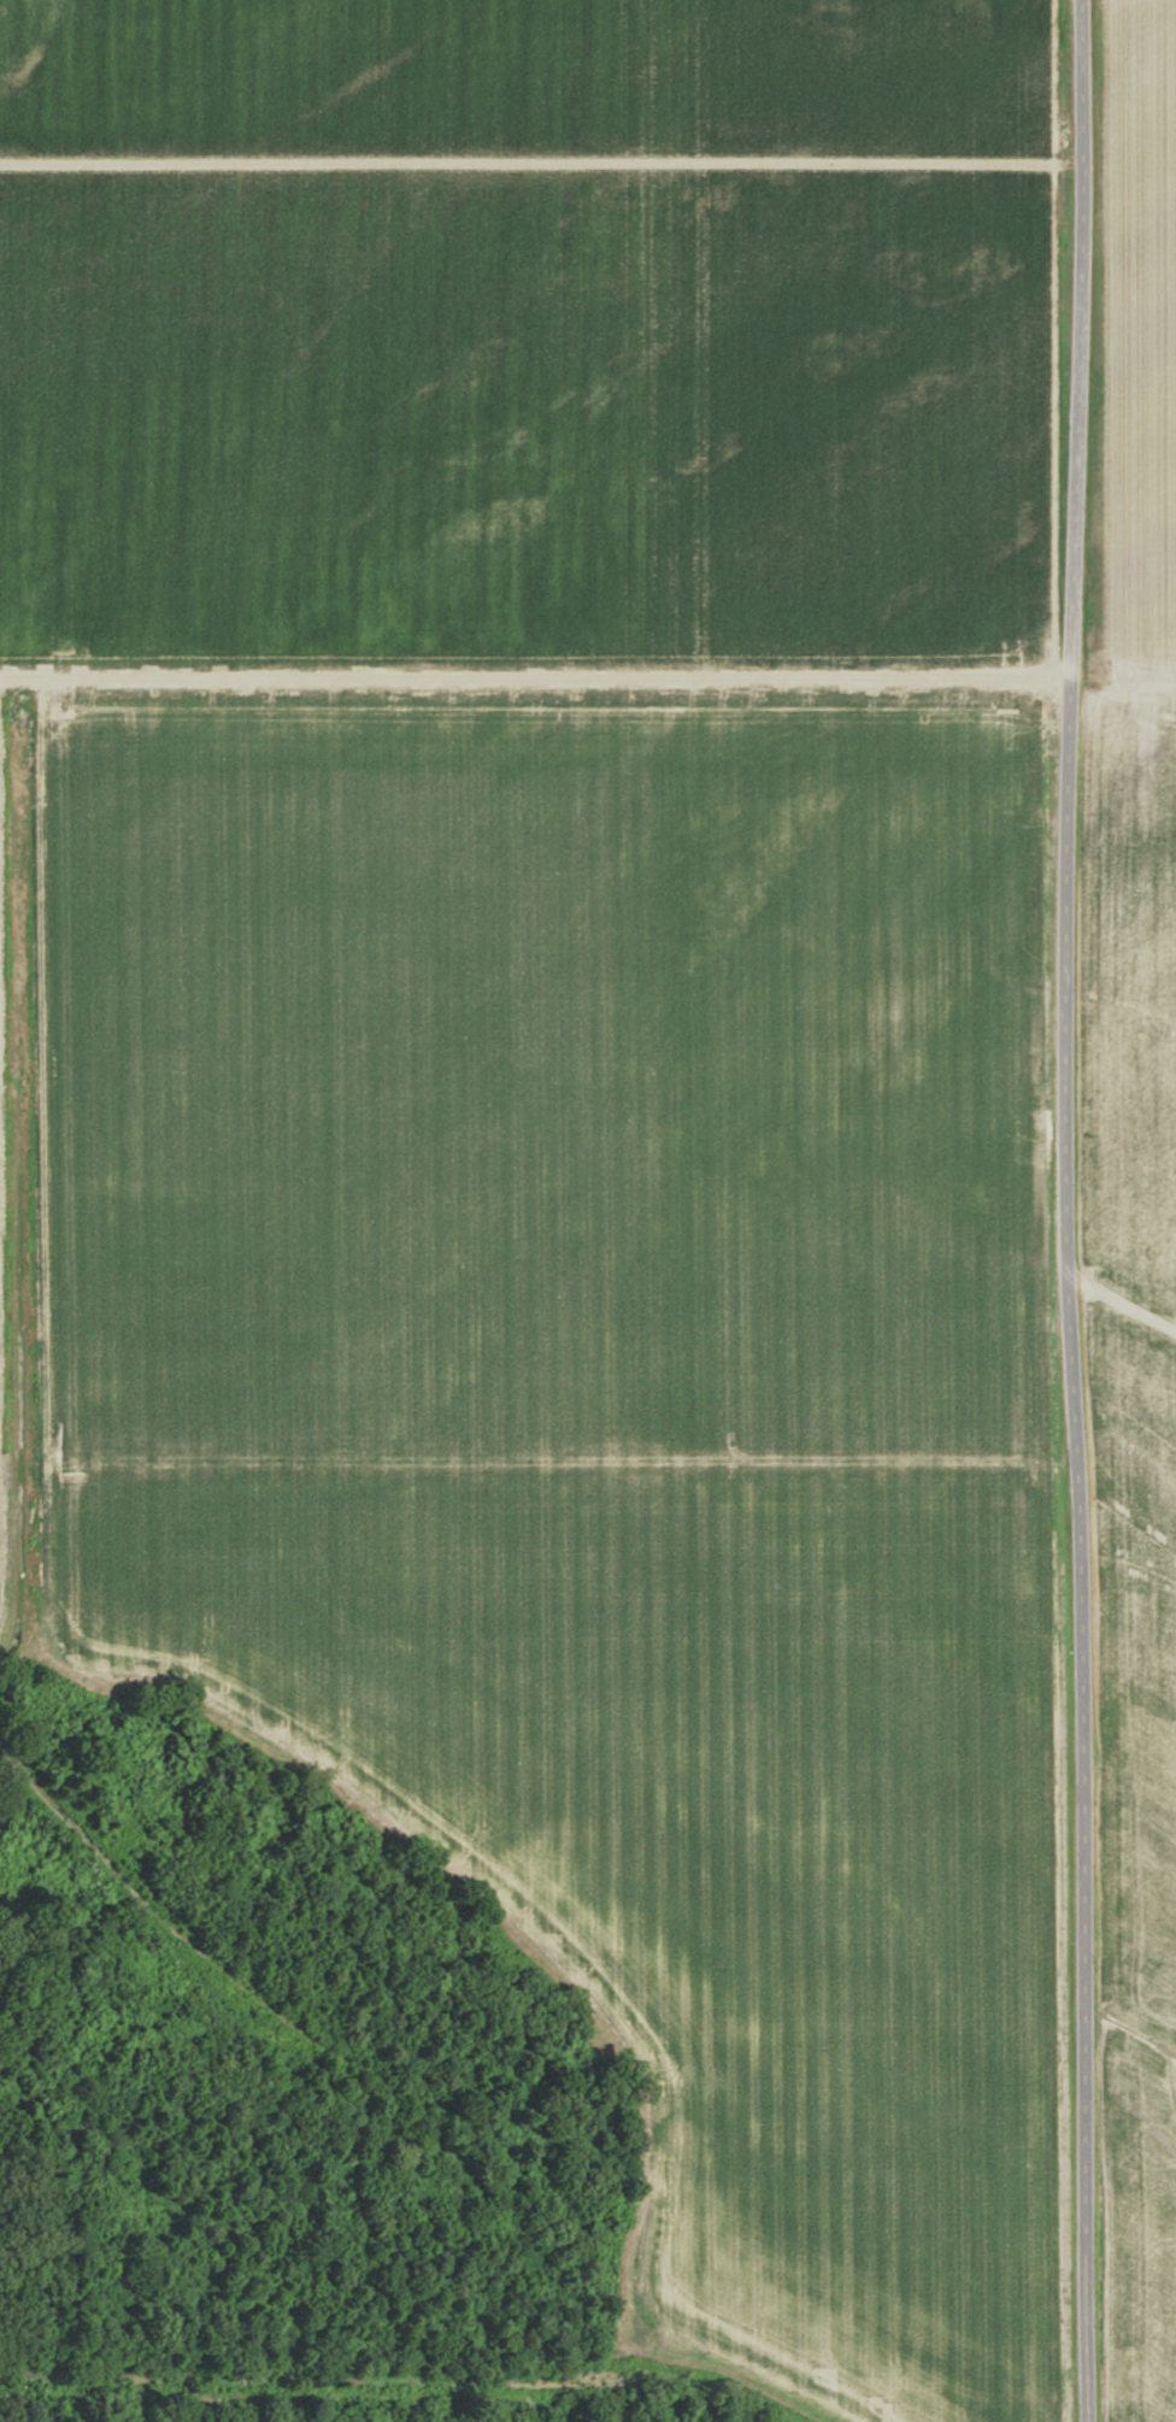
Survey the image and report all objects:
road: (1066, 1211)

